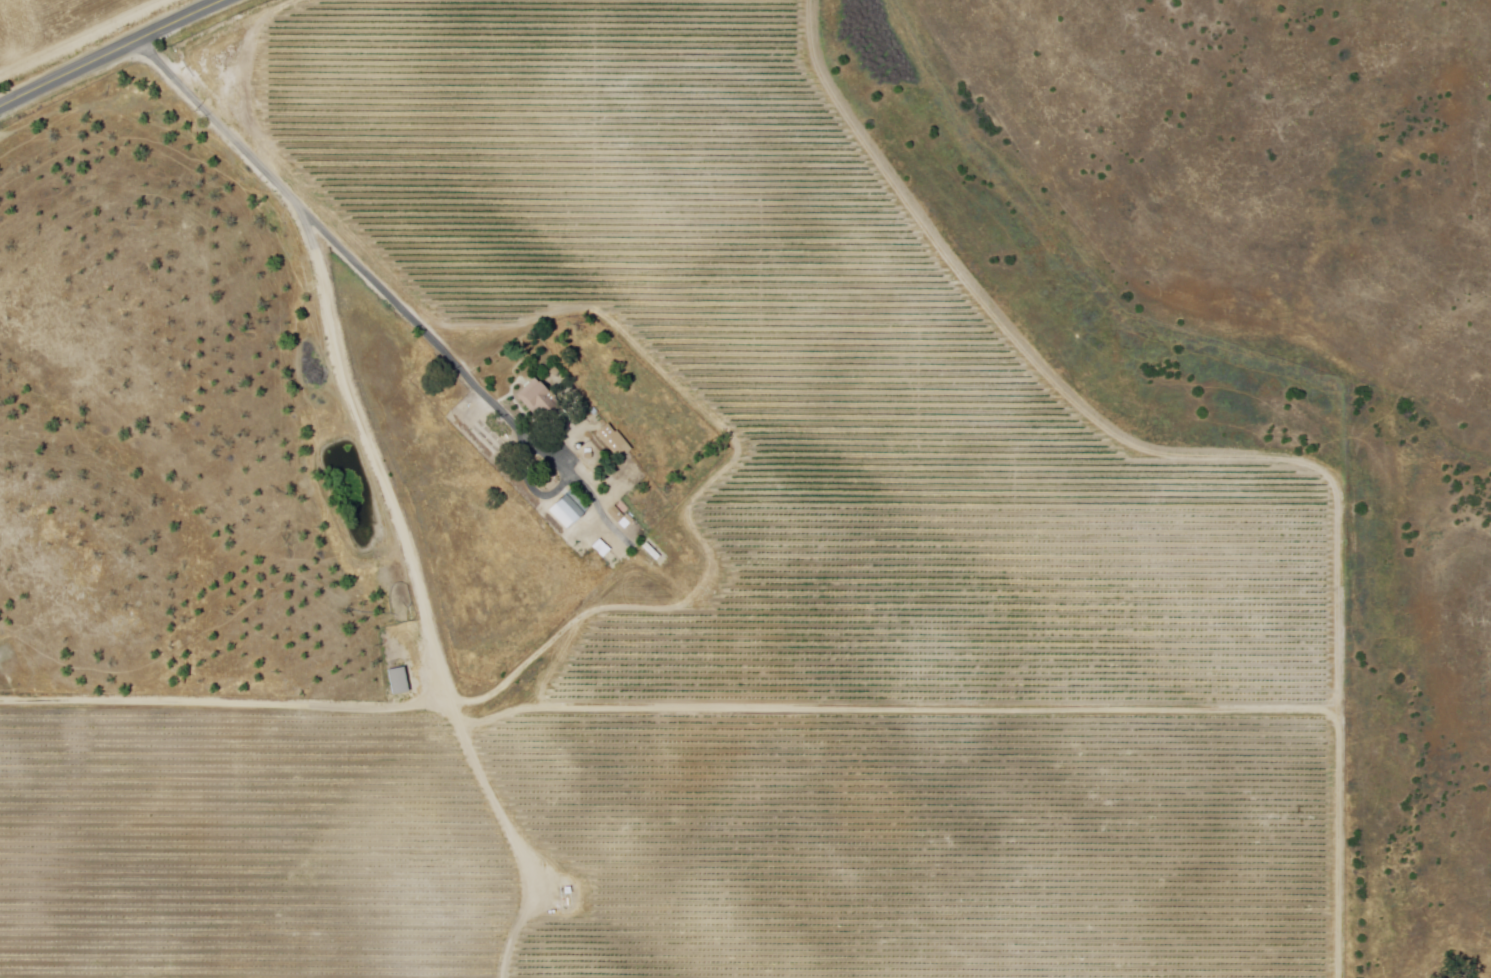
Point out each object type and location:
road: (108, 51)
road: (322, 229)
building: (546, 411)
building: (611, 441)
storage tank: (578, 447)
building: (586, 478)
building: (568, 511)
building: (400, 681)

